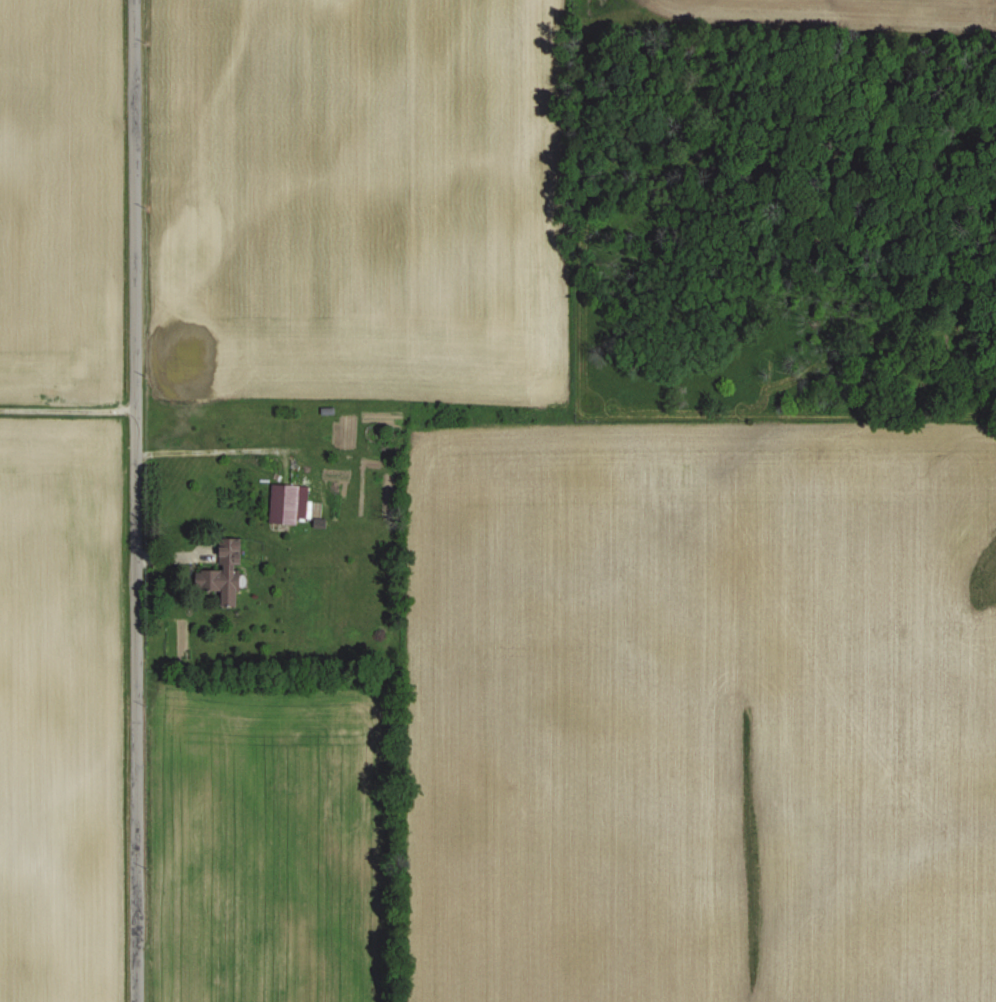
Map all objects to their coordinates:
building: (240, 433)
road: (205, 454)
road: (134, 501)
building: (283, 503)
building: (224, 572)

